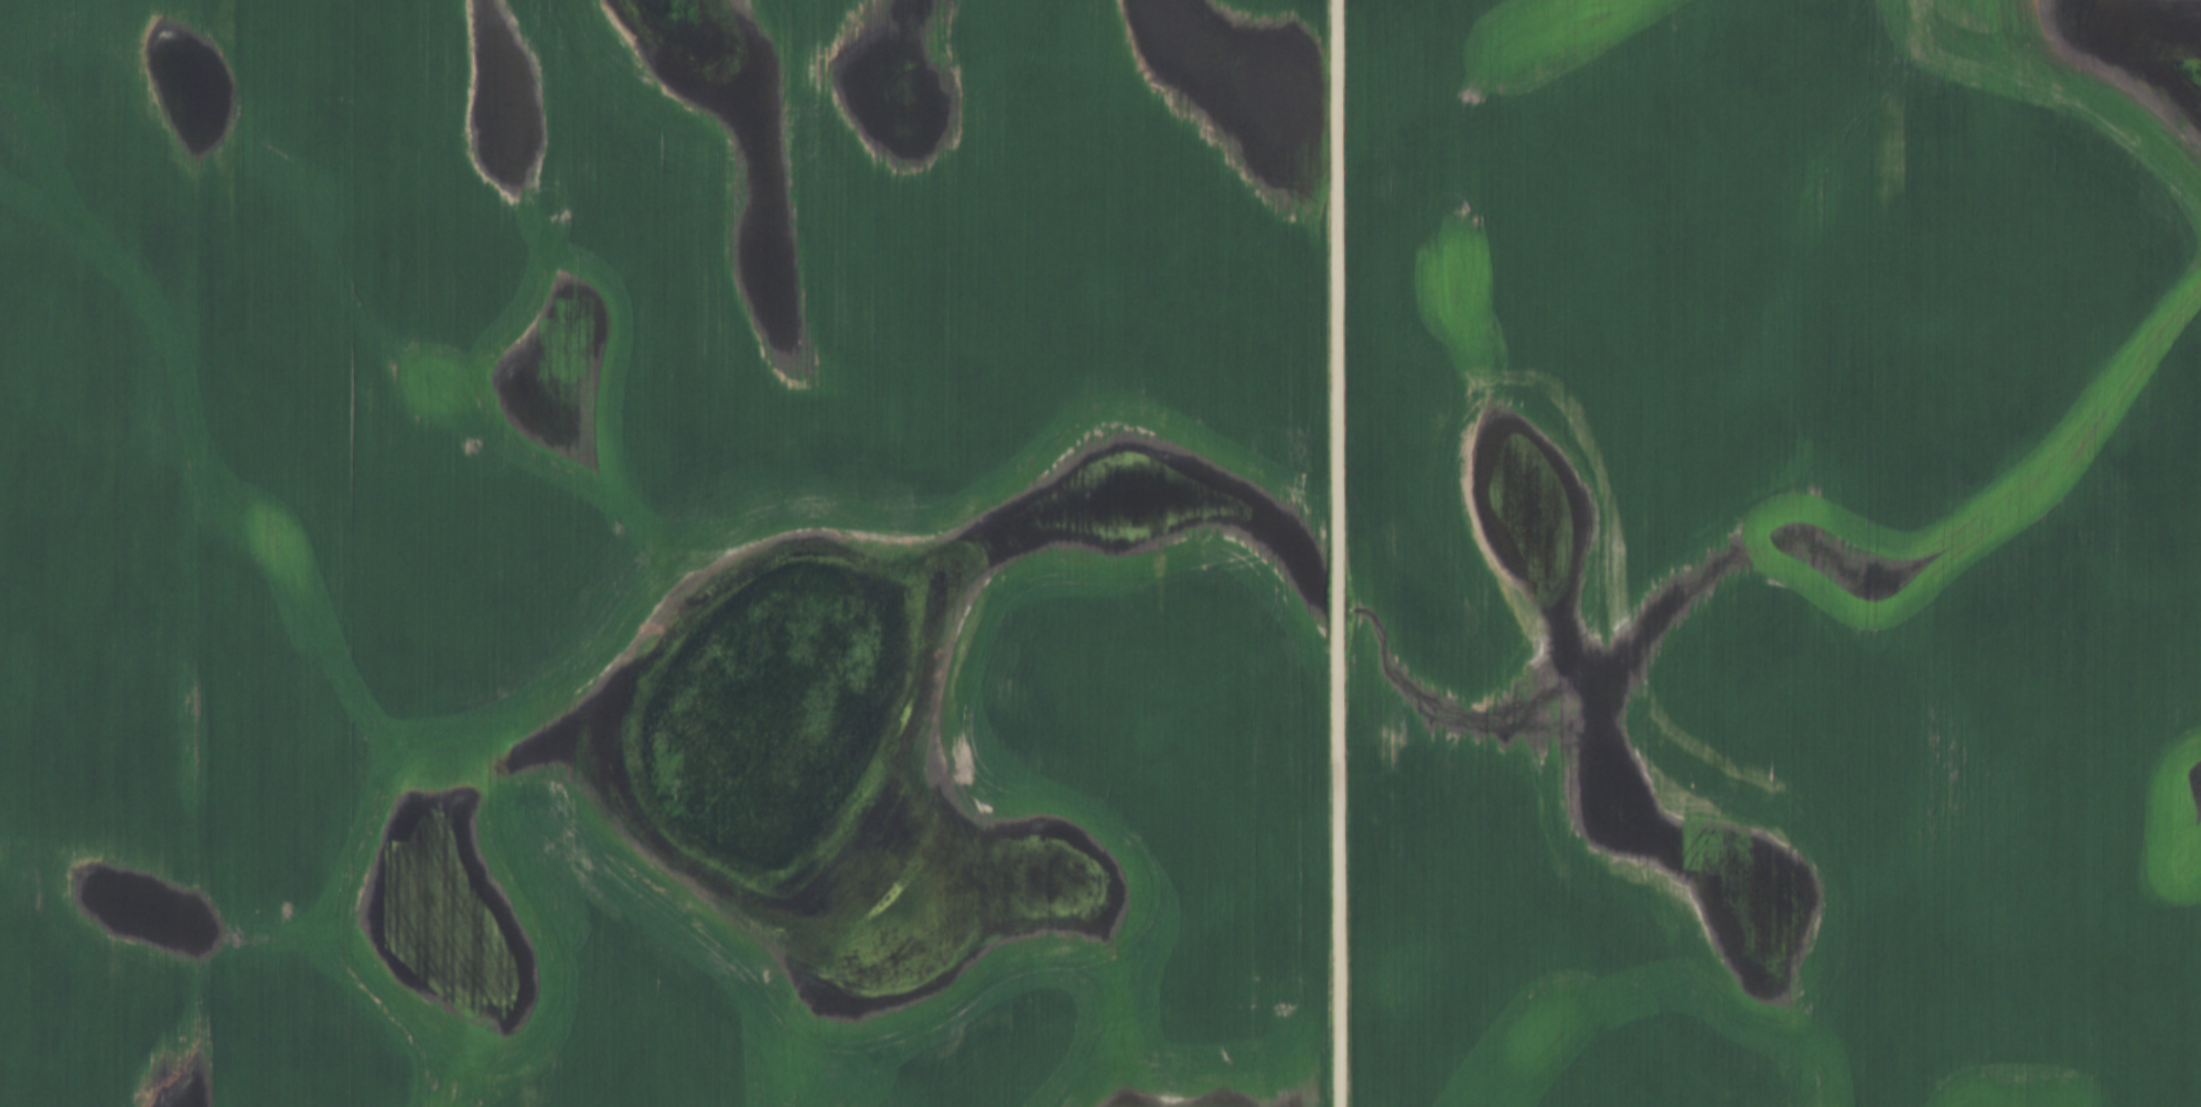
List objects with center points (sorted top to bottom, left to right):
road: (1334, 553)

